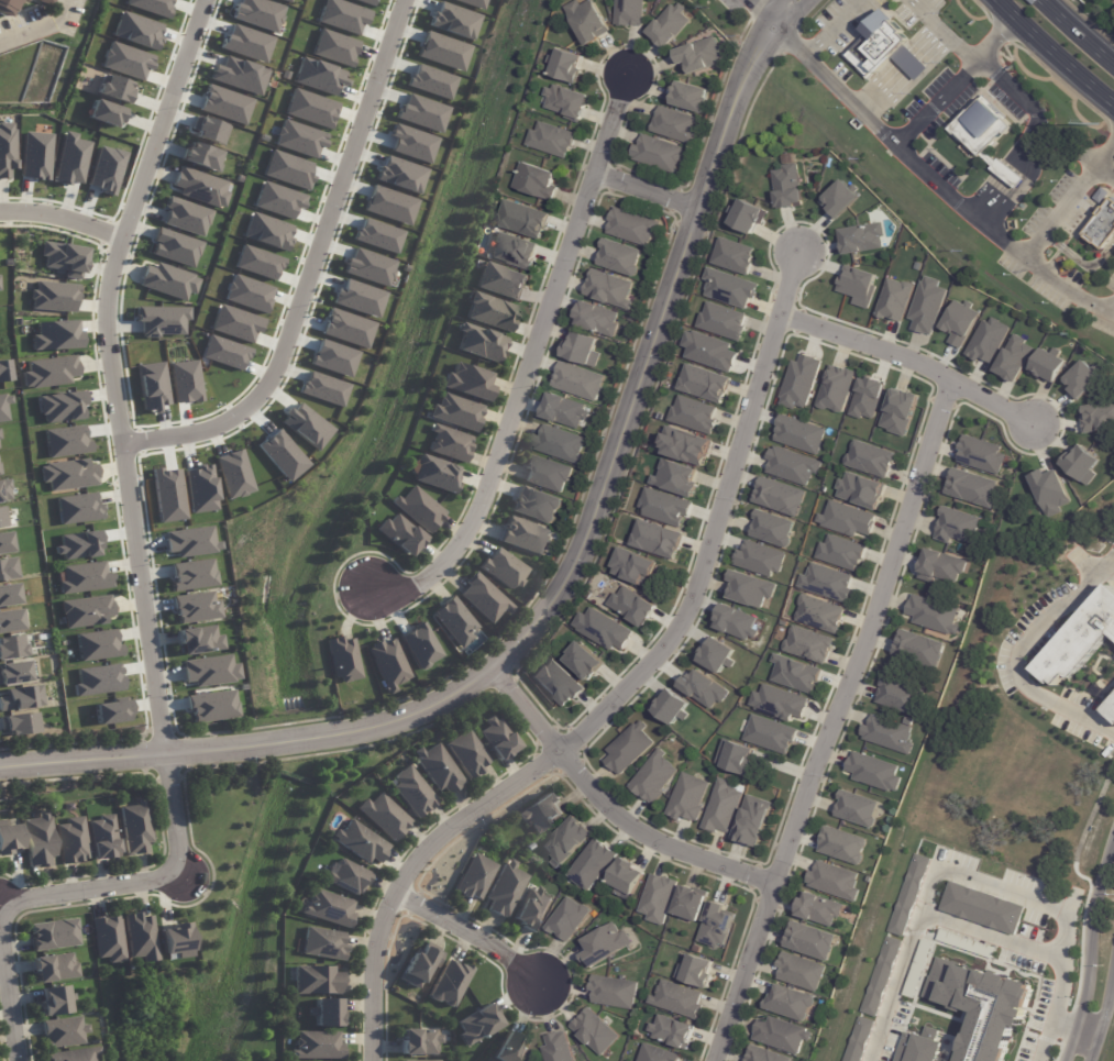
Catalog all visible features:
building: (21, 0)
building: (289, 0)
building: (46, 2)
building: (152, 5)
building: (7, 7)
road: (758, 10)
road: (772, 10)
building: (625, 12)
building: (257, 13)
road: (791, 13)
building: (584, 20)
building: (665, 24)
road: (37, 26)
road: (831, 27)
road: (946, 27)
road: (1079, 32)
building: (246, 43)
building: (883, 49)
building: (696, 55)
road: (1055, 55)
building: (565, 66)
building: (243, 75)
road: (953, 79)
road: (830, 82)
building: (114, 89)
building: (686, 96)
building: (566, 102)
building: (106, 113)
power tower: (1100, 123)
building: (670, 124)
building: (208, 130)
building: (983, 135)
road: (1028, 137)
building: (550, 140)
building: (7, 148)
building: (653, 153)
building: (35, 155)
building: (200, 156)
building: (69, 159)
building: (106, 169)
road: (1106, 169)
building: (536, 181)
building: (199, 187)
building: (786, 187)
road: (647, 192)
building: (1103, 196)
building: (838, 199)
road: (960, 201)
building: (185, 215)
building: (746, 217)
building: (521, 219)
road: (63, 220)
building: (631, 226)
building: (1104, 226)
building: (861, 237)
road: (1036, 244)
building: (175, 246)
building: (512, 251)
building: (732, 256)
building: (618, 257)
building: (63, 258)
road: (1080, 263)
road: (310, 270)
building: (167, 280)
building: (500, 280)
building: (857, 286)
building: (729, 288)
building: (608, 289)
building: (53, 296)
building: (894, 300)
building: (926, 306)
road: (1110, 309)
building: (489, 311)
building: (596, 319)
building: (161, 320)
building: (721, 321)
building: (959, 322)
building: (54, 335)
building: (988, 340)
building: (481, 343)
building: (582, 350)
building: (708, 351)
building: (1014, 357)
road: (911, 361)
road: (530, 362)
building: (1047, 365)
building: (49, 372)
building: (466, 380)
building: (1080, 380)
building: (577, 382)
building: (799, 382)
building: (703, 383)
building: (835, 388)
building: (865, 398)
building: (60, 406)
building: (563, 410)
building: (456, 411)
building: (898, 412)
building: (694, 415)
building: (1098, 417)
building: (798, 434)
building: (66, 441)
building: (449, 443)
building: (559, 444)
building: (684, 446)
building: (980, 455)
building: (870, 458)
building: (1080, 464)
building: (791, 465)
building: (435, 473)
building: (68, 474)
building: (233, 474)
building: (547, 474)
building: (675, 478)
building: (970, 487)
building: (3, 489)
building: (860, 490)
building: (1049, 490)
building: (777, 496)
building: (534, 505)
building: (664, 507)
building: (78, 508)
building: (418, 509)
building: (2, 517)
building: (846, 519)
road: (714, 521)
road: (133, 523)
building: (953, 526)
building: (771, 530)
building: (399, 533)
building: (525, 534)
building: (655, 539)
building: (190, 541)
building: (4, 542)
building: (78, 544)
building: (840, 552)
building: (759, 559)
building: (631, 566)
building: (940, 566)
building: (5, 567)
building: (503, 568)
building: (191, 574)
building: (84, 577)
building: (826, 582)
building: (750, 589)
road: (555, 590)
building: (9, 593)
building: (484, 597)
building: (632, 606)
building: (195, 607)
building: (86, 610)
building: (819, 614)
building: (933, 615)
building: (9, 620)
building: (451, 620)
building: (736, 622)
building: (603, 629)
building: (1084, 634)
building: (198, 640)
building: (97, 644)
building: (807, 644)
building: (11, 645)
building: (420, 645)
building: (918, 649)
road: (1015, 653)
building: (716, 655)
building: (343, 659)
building: (580, 659)
building: (388, 663)
building: (209, 671)
building: (13, 672)
building: (794, 674)
building: (99, 679)
building: (553, 681)
building: (704, 689)
building: (902, 696)
building: (21, 697)
building: (779, 704)
building: (211, 706)
building: (670, 707)
building: (111, 711)
building: (1112, 714)
road: (834, 721)
building: (18, 723)
building: (769, 734)
building: (886, 734)
building: (498, 737)
building: (628, 749)
building: (467, 753)
building: (735, 758)
building: (439, 767)
building: (873, 772)
building: (652, 777)
building: (411, 792)
building: (686, 798)
building: (721, 807)
building: (856, 808)
road: (610, 809)
building: (541, 811)
building: (384, 816)
building: (751, 820)
building: (136, 826)
building: (9, 836)
building: (102, 837)
building: (40, 840)
building: (71, 840)
building: (356, 840)
building: (565, 840)
building: (841, 846)
building: (587, 863)
road: (408, 873)
building: (350, 876)
building: (477, 876)
building: (626, 878)
road: (974, 880)
building: (832, 881)
building: (507, 888)
building: (908, 895)
building: (657, 898)
building: (690, 904)
road: (1040, 904)
building: (330, 908)
building: (981, 908)
building: (530, 909)
building: (817, 909)
building: (566, 919)
building: (712, 924)
building: (53, 933)
road: (472, 935)
building: (140, 937)
building: (108, 939)
building: (176, 940)
building: (809, 941)
building: (326, 943)
building: (600, 943)
building: (966, 943)
road: (1090, 948)
building: (419, 964)
building: (918, 965)
building: (53, 966)
building: (799, 971)
building: (695, 972)
building: (881, 976)
building: (319, 980)
building: (449, 983)
building: (611, 991)
road: (9, 993)
building: (55, 999)
building: (676, 999)
building: (788, 1003)
building: (980, 1007)
building: (329, 1012)
road: (1102, 1017)
building: (476, 1024)
road: (1074, 1027)
building: (594, 1031)
building: (671, 1031)
building: (65, 1032)
building: (781, 1035)
building: (859, 1039)
building: (421, 1041)
building: (319, 1046)
building: (919, 1047)
building: (558, 1048)
building: (508, 1049)
building: (75, 1054)
building: (657, 1054)
building: (763, 1054)
building: (416, 1060)

